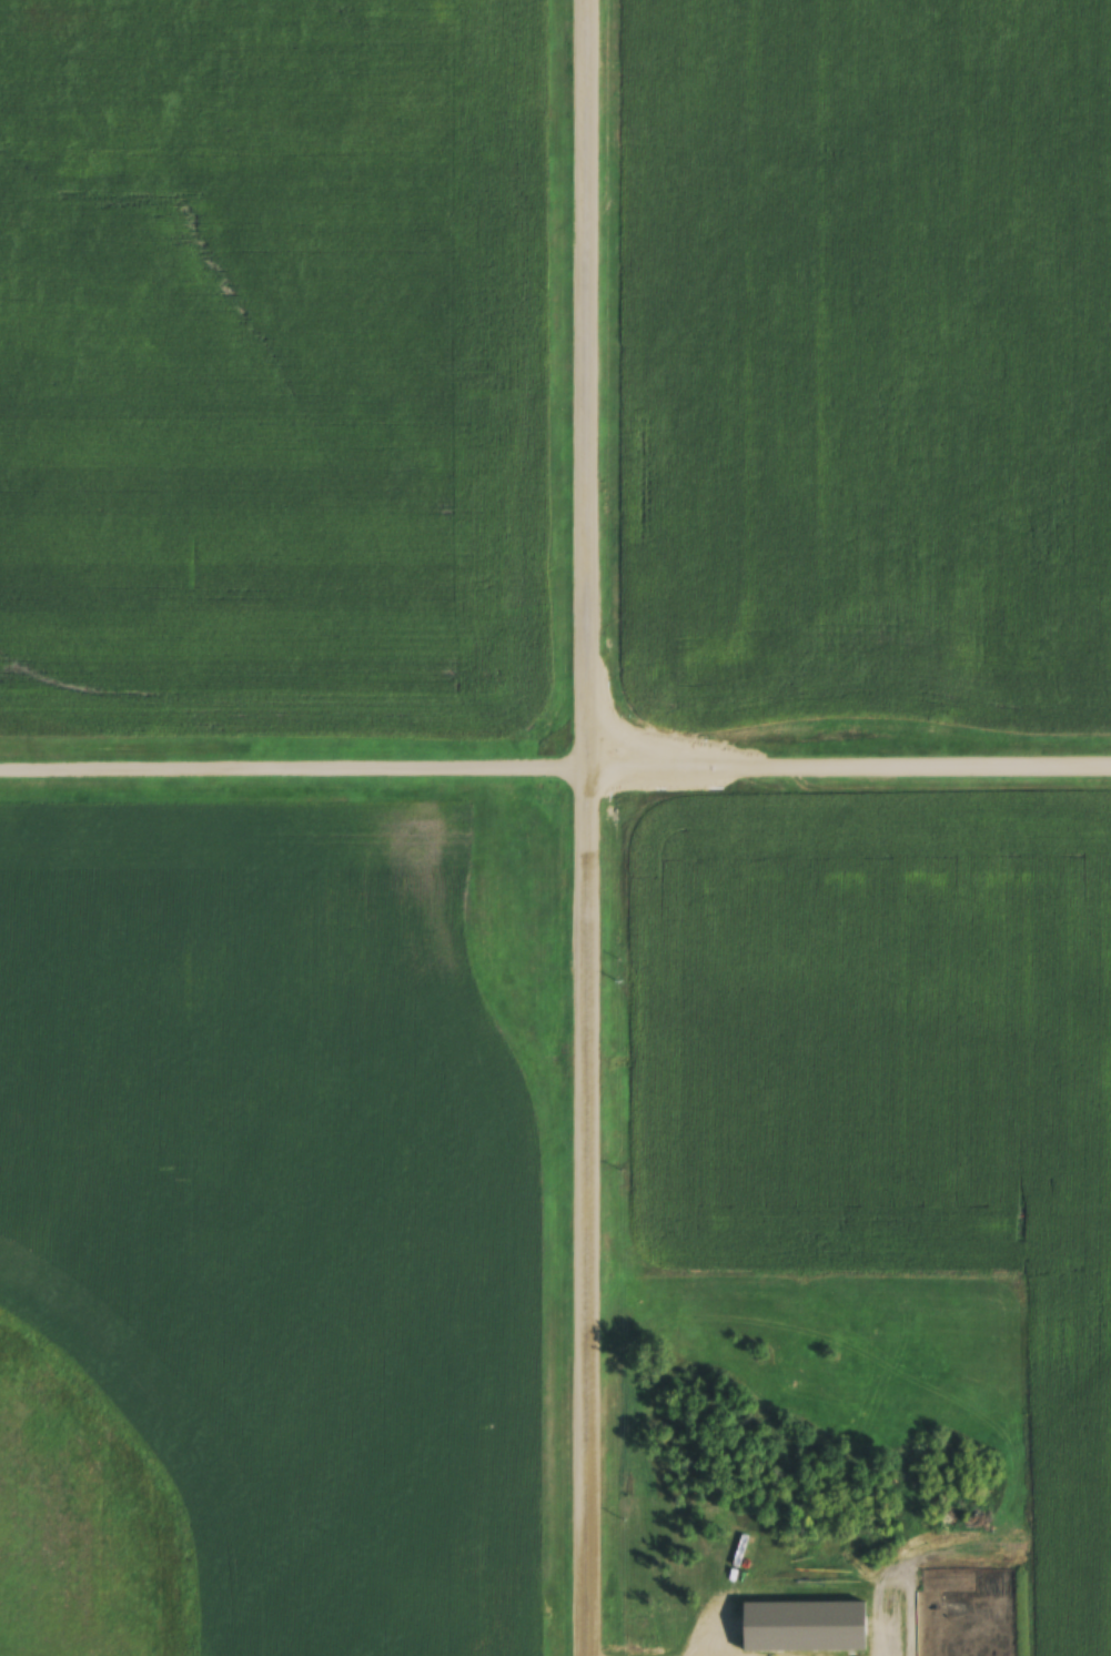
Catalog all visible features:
road: (555, 760)
road: (586, 827)
building: (848, 1578)
building: (938, 1579)
building: (759, 1623)
road: (777, 1640)

